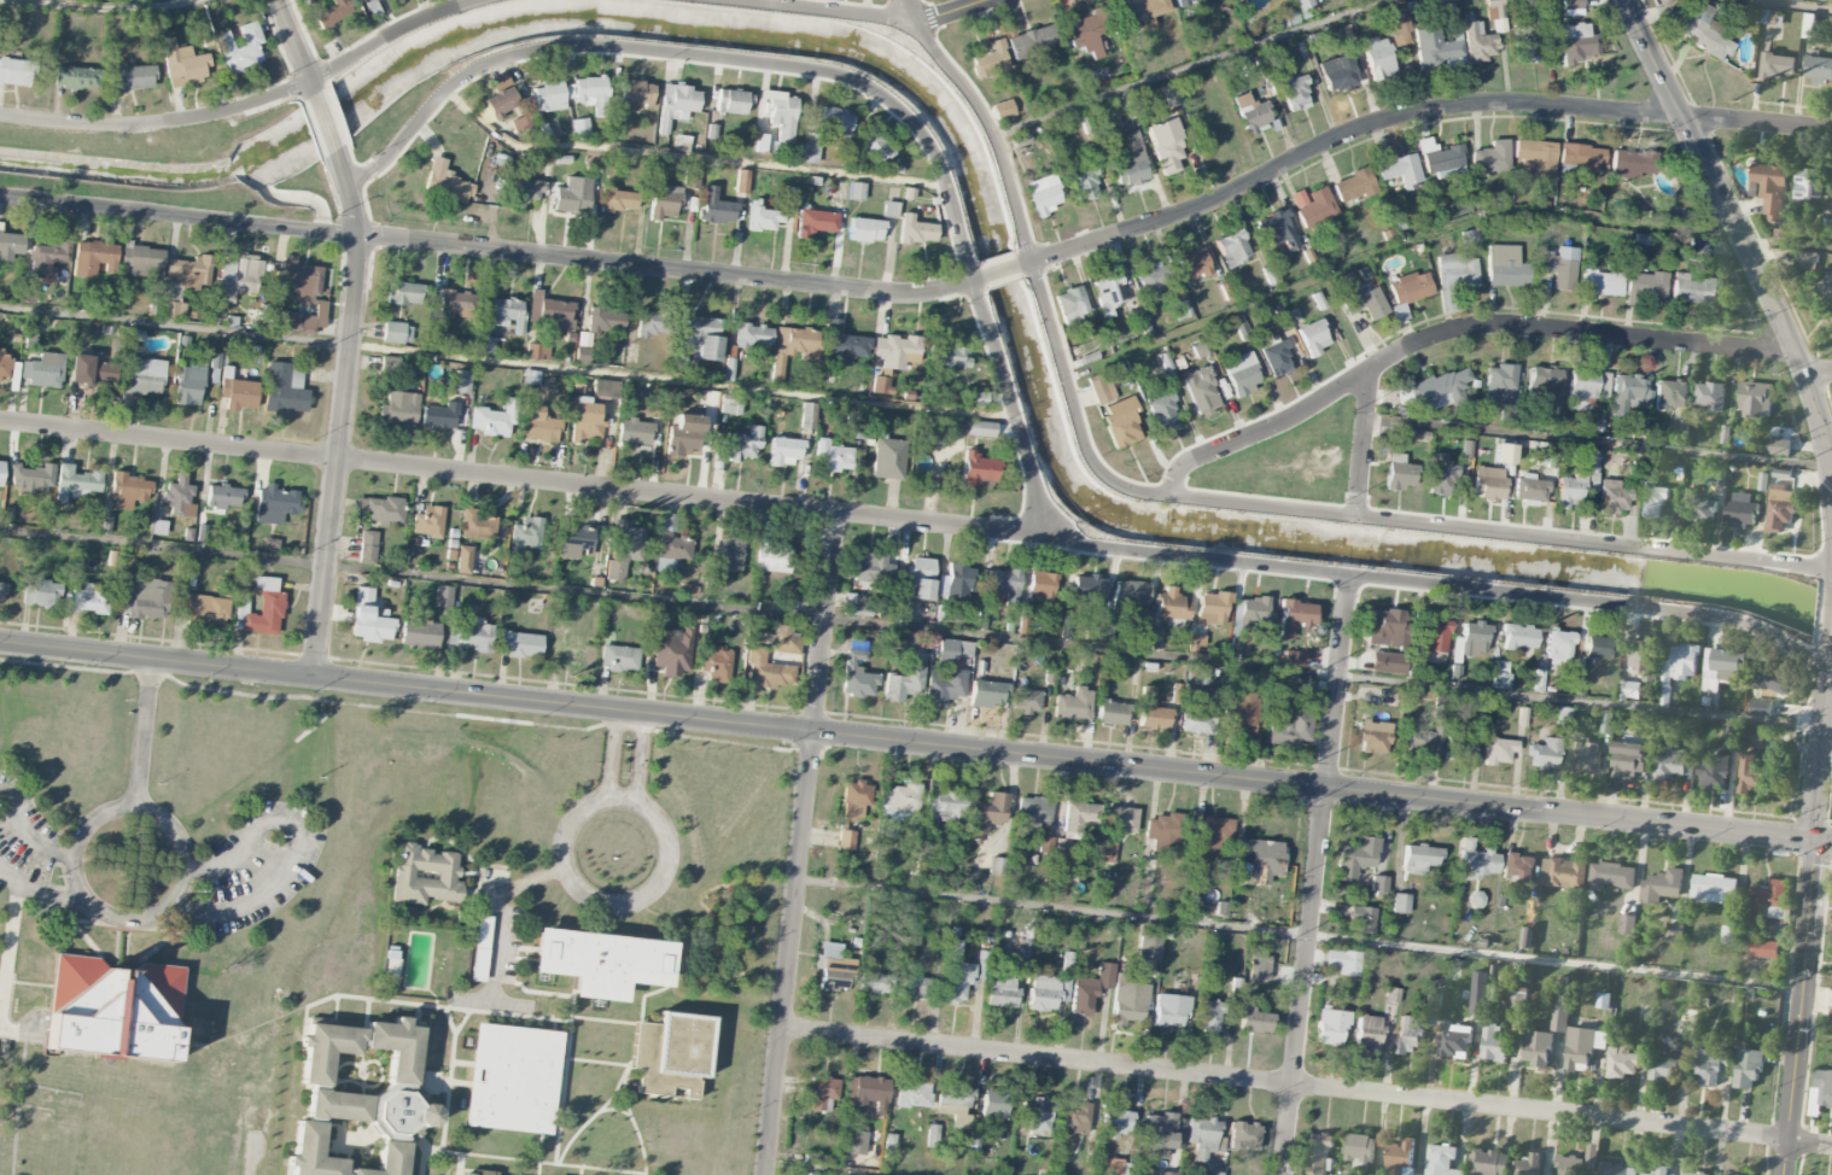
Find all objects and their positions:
building: (363, 0)
building: (1821, 0)
building: (1183, 1)
building: (1305, 5)
road: (1773, 6)
building: (1541, 7)
building: (1573, 7)
building: (1494, 8)
road: (97, 10)
road: (911, 11)
building: (1143, 11)
building: (332, 13)
road: (850, 13)
building: (1395, 27)
building: (1697, 28)
building: (1087, 33)
building: (1029, 41)
building: (1478, 42)
building: (1527, 42)
building: (1576, 43)
road: (607, 46)
road: (297, 47)
building: (240, 48)
building: (1379, 58)
building: (991, 60)
road: (1185, 64)
building: (183, 65)
building: (1778, 66)
building: (1819, 70)
building: (16, 72)
building: (1338, 74)
building: (76, 77)
building: (132, 78)
building: (636, 93)
building: (1295, 93)
building: (591, 94)
building: (501, 95)
building: (548, 97)
building: (733, 101)
building: (676, 104)
road: (245, 105)
building: (1003, 109)
road: (1416, 112)
building: (781, 113)
building: (1252, 113)
road: (327, 121)
building: (834, 121)
building: (580, 128)
building: (765, 144)
building: (1166, 144)
building: (811, 147)
building: (873, 148)
road: (684, 154)
building: (1492, 157)
building: (1581, 157)
building: (1535, 158)
building: (1440, 159)
building: (1131, 163)
building: (1632, 163)
building: (1400, 170)
building: (741, 181)
building: (447, 182)
building: (1085, 183)
building: (1809, 185)
building: (1353, 186)
building: (1770, 189)
building: (856, 191)
building: (526, 192)
building: (572, 195)
building: (1042, 195)
building: (618, 200)
building: (663, 201)
building: (1313, 206)
building: (714, 207)
building: (889, 209)
building: (763, 217)
building: (816, 222)
building: (865, 229)
building: (1277, 229)
building: (915, 230)
road: (1434, 230)
road: (1738, 230)
building: (10, 245)
building: (1232, 247)
road: (486, 249)
building: (92, 257)
building: (47, 258)
building: (144, 259)
building: (1805, 261)
building: (1194, 264)
building: (1506, 267)
building: (1559, 267)
road: (999, 269)
building: (1455, 270)
building: (189, 273)
building: (239, 277)
road: (1032, 277)
building: (1153, 279)
building: (1601, 282)
building: (1645, 286)
building: (1410, 287)
building: (1694, 290)
building: (404, 293)
building: (1108, 293)
building: (28, 294)
building: (299, 298)
building: (457, 303)
building: (1365, 303)
building: (1070, 304)
building: (174, 310)
building: (550, 311)
building: (508, 314)
building: (654, 323)
road: (1455, 331)
building: (397, 333)
building: (753, 335)
building: (705, 337)
building: (1313, 337)
building: (485, 344)
building: (844, 345)
building: (585, 346)
building: (793, 349)
building: (1201, 349)
building: (895, 350)
building: (536, 351)
building: (1274, 355)
building: (949, 357)
road: (506, 361)
building: (5, 367)
building: (43, 370)
building: (91, 370)
road: (1818, 370)
building: (1242, 373)
building: (144, 376)
building: (1542, 380)
building: (462, 381)
building: (1500, 382)
building: (188, 386)
building: (881, 386)
building: (1581, 387)
building: (285, 388)
building: (605, 388)
building: (1441, 388)
building: (1102, 390)
building: (1202, 392)
building: (239, 393)
building: (1670, 394)
building: (1630, 396)
building: (1710, 396)
building: (976, 398)
building: (1755, 399)
building: (725, 405)
building: (399, 409)
building: (1163, 410)
road: (343, 411)
building: (439, 415)
building: (494, 419)
building: (587, 421)
building: (807, 421)
building: (1121, 421)
building: (537, 425)
building: (980, 428)
building: (634, 433)
building: (684, 435)
road: (1363, 442)
road: (1599, 442)
building: (742, 445)
building: (1779, 448)
building: (786, 451)
building: (1505, 454)
building: (833, 456)
building: (888, 458)
building: (1548, 458)
building: (978, 472)
building: (1400, 473)
building: (1441, 475)
building: (33, 478)
road: (529, 479)
building: (76, 483)
building: (1488, 483)
building: (129, 487)
building: (1530, 489)
building: (1570, 490)
building: (223, 496)
building: (179, 497)
building: (1614, 497)
building: (1652, 499)
building: (275, 504)
building: (1780, 508)
building: (381, 509)
building: (1699, 509)
building: (1741, 510)
building: (428, 521)
building: (106, 524)
building: (478, 525)
building: (527, 532)
road: (1500, 532)
building: (574, 540)
building: (368, 545)
building: (673, 546)
building: (623, 548)
building: (725, 557)
building: (774, 557)
building: (463, 560)
road: (1223, 561)
building: (871, 567)
building: (920, 577)
building: (956, 581)
building: (1000, 583)
building: (1042, 585)
building: (1089, 587)
building: (2, 591)
building: (1131, 592)
building: (40, 594)
building: (142, 596)
building: (443, 596)
building: (88, 600)
building: (795, 602)
building: (853, 606)
building: (1171, 606)
building: (1212, 608)
building: (204, 609)
building: (900, 610)
building: (1295, 615)
building: (1247, 618)
building: (369, 619)
road: (911, 626)
building: (1385, 629)
building: (420, 632)
building: (473, 633)
building: (1108, 633)
building: (1434, 635)
building: (1519, 637)
building: (786, 638)
building: (1150, 638)
building: (1471, 641)
building: (1195, 642)
building: (520, 644)
building: (1558, 644)
road: (1831, 644)
building: (1599, 647)
building: (952, 650)
building: (672, 651)
building: (1640, 651)
building: (619, 657)
building: (1294, 659)
building: (716, 662)
building: (1387, 662)
building: (1087, 664)
building: (1680, 666)
building: (1721, 668)
building: (765, 672)
building: (1501, 674)
building: (857, 676)
building: (1770, 680)
building: (903, 683)
building: (944, 686)
building: (1300, 686)
building: (1581, 686)
building: (1629, 691)
building: (987, 694)
building: (1027, 701)
building: (1073, 705)
building: (1760, 708)
building: (1151, 711)
building: (1112, 712)
building: (1239, 713)
building: (1198, 720)
building: (1606, 723)
building: (1289, 730)
road: (144, 733)
building: (1373, 737)
building: (1419, 738)
building: (1754, 738)
road: (908, 742)
building: (1458, 747)
road: (1821, 748)
building: (1499, 750)
road: (611, 754)
building: (1545, 754)
building: (1585, 756)
road: (637, 758)
building: (1628, 760)
building: (1671, 765)
park: (1826, 770)
building: (1750, 774)
building: (1713, 777)
building: (900, 803)
building: (944, 808)
road: (101, 811)
building: (852, 811)
building: (1033, 811)
building: (986, 813)
building: (1077, 816)
building: (1122, 819)
road: (25, 829)
building: (1163, 832)
traffic signals: (1816, 838)
road: (1824, 840)
building: (1207, 841)
road: (298, 842)
road: (801, 843)
building: (1051, 846)
parking lot: (30, 848)
building: (1104, 852)
building: (1357, 857)
building: (1419, 858)
building: (1258, 859)
building: (1475, 861)
parking lot: (251, 867)
building: (1517, 867)
building: (1564, 873)
building: (425, 876)
road: (1318, 876)
building: (1610, 877)
building: (1378, 884)
building: (1662, 885)
building: (1714, 889)
road: (39, 892)
road: (623, 900)
building: (1764, 902)
building: (1400, 904)
road: (498, 913)
road: (607, 918)
building: (1363, 918)
building: (1627, 925)
road: (77, 929)
road: (1300, 934)
building: (1674, 934)
road: (121, 939)
road: (165, 939)
building: (1148, 947)
building: (480, 948)
building: (1764, 949)
road: (8, 951)
parking lot: (494, 955)
road: (513, 957)
road: (731, 957)
building: (1025, 959)
building: (601, 961)
building: (1343, 961)
building: (1259, 966)
building: (873, 980)
building: (957, 982)
building: (916, 987)
building: (1050, 988)
building: (1090, 988)
road: (658, 989)
building: (1000, 989)
road: (530, 990)
building: (1478, 993)
road: (436, 998)
road: (372, 999)
building: (1128, 999)
building: (1517, 999)
building: (1434, 1001)
building: (1603, 1001)
road: (490, 1002)
road: (1799, 1006)
building: (1560, 1007)
building: (111, 1009)
road: (334, 1010)
road: (457, 1010)
building: (1169, 1011)
road: (492, 1013)
building: (1208, 1015)
road: (416, 1016)
road: (602, 1021)
building: (1254, 1021)
road: (364, 1022)
building: (1331, 1027)
road: (17, 1031)
road: (240, 1031)
building: (1367, 1031)
building: (1410, 1036)
building: (1454, 1041)
building: (1493, 1045)
building: (1538, 1048)
building: (326, 1050)
building: (671, 1053)
road: (597, 1062)
building: (1622, 1063)
building: (1708, 1065)
building: (1663, 1069)
building: (1749, 1069)
building: (510, 1077)
road: (1306, 1085)
building: (865, 1091)
building: (1820, 1092)
building: (823, 1093)
building: (912, 1094)
road: (561, 1098)
building: (384, 1099)
road: (447, 1101)
building: (955, 1105)
building: (993, 1105)
road: (615, 1109)
road: (594, 1115)
building: (1037, 1115)
building: (1075, 1117)
building: (1114, 1122)
road: (632, 1124)
building: (1161, 1134)
building: (1200, 1136)
building: (1242, 1136)
building: (856, 1142)
road: (541, 1147)
building: (1359, 1148)
building: (311, 1152)
building: (1318, 1153)
road: (424, 1154)
road: (249, 1157)
building: (1400, 1158)
road: (535, 1161)
building: (1441, 1161)
building: (1577, 1162)
building: (1488, 1163)
road: (459, 1164)
building: (1528, 1165)
road: (833, 1167)
road: (538, 1168)
building: (1119, 1168)
building: (1616, 1169)
road: (288, 1170)
building: (1658, 1170)
building: (1163, 1173)
building: (1210, 1173)
building: (463, 1174)
building: (815, 1174)
building: (1694, 1174)

